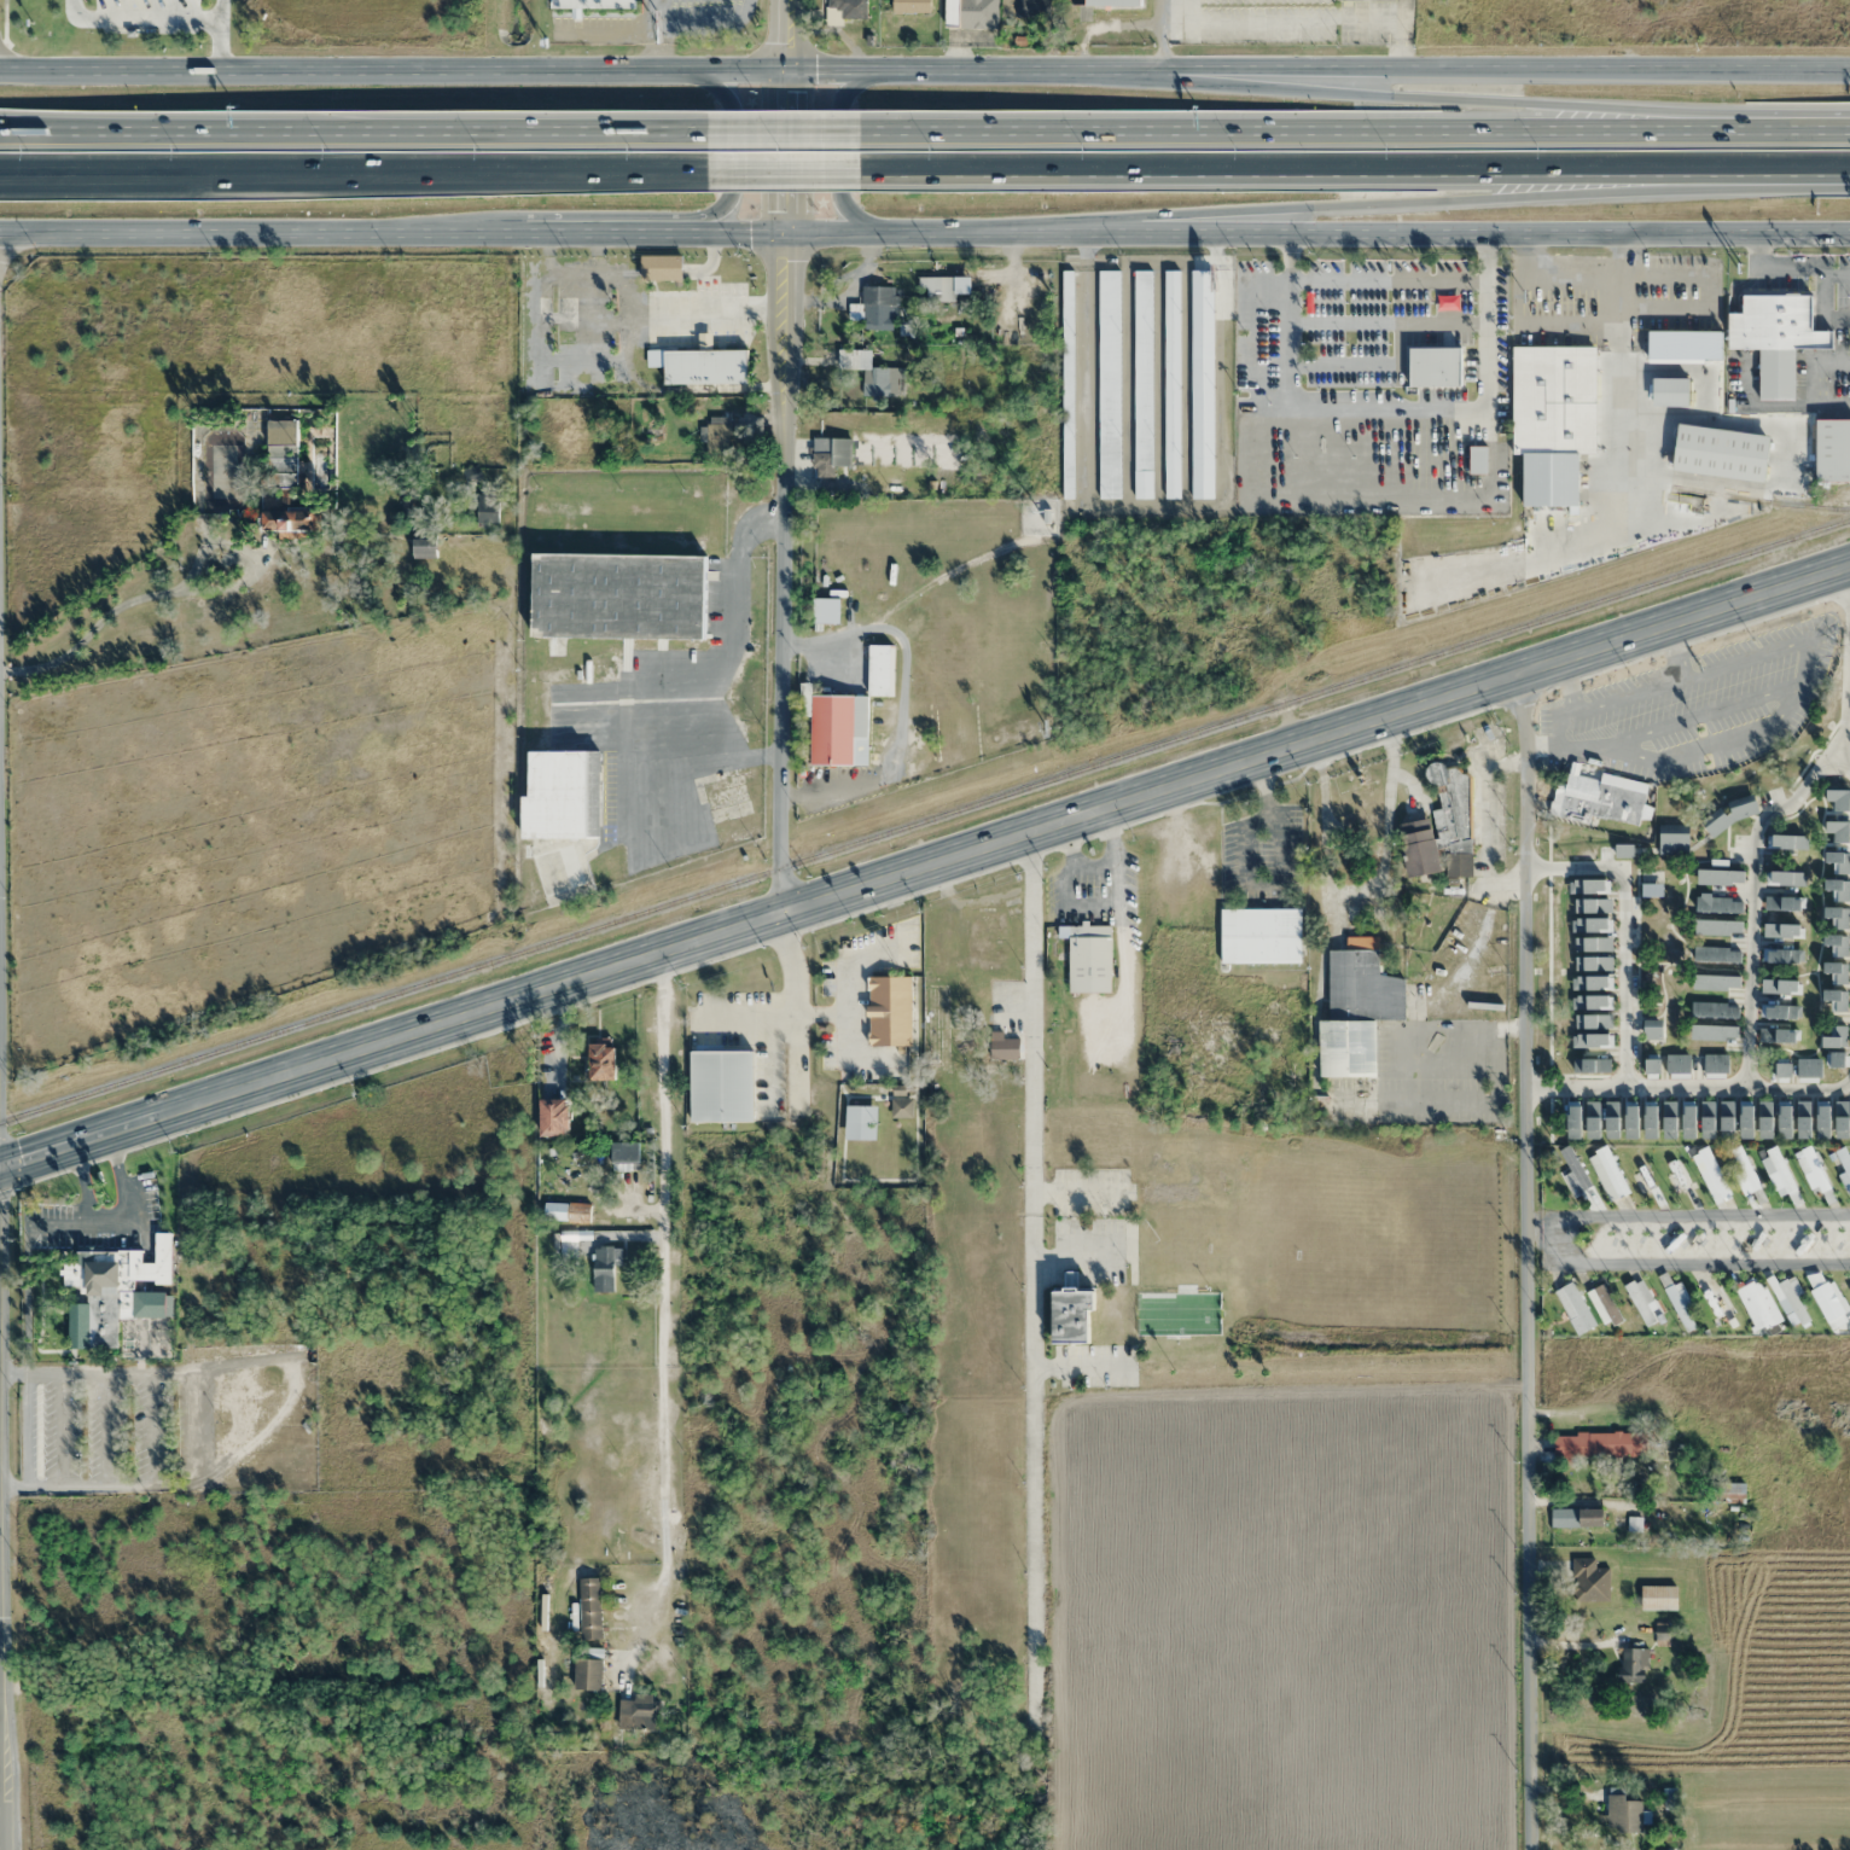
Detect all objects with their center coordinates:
building: (592, 4)
building: (1115, 4)
building: (911, 5)
building: (1035, 8)
building: (847, 10)
building: (971, 13)
road: (4, 64)
road: (924, 69)
road: (1217, 82)
road: (1455, 97)
road: (1599, 116)
road: (83, 133)
road: (438, 133)
road: (784, 133)
road: (1028, 133)
road: (1357, 133)
road: (1599, 133)
road: (1763, 133)
street lamp: (1238, 149)
street lamp: (1386, 149)
street lamp: (1537, 149)
street lamp: (29, 150)
street lamp: (179, 150)
street lamp: (331, 150)
street lamp: (483, 150)
street lamp: (633, 150)
road: (837, 150)
street lamp: (933, 150)
street lamp: (1086, 150)
road: (728, 155)
road: (1753, 169)
road: (1258, 171)
road: (784, 175)
road: (354, 176)
building: (820, 204)
road: (1423, 204)
road: (924, 232)
building: (661, 268)
building: (937, 289)
building: (879, 307)
building: (1775, 338)
building: (1685, 347)
building: (859, 365)
building: (1436, 367)
building: (705, 370)
building: (1109, 384)
building: (1142, 384)
building: (1171, 384)
building: (1202, 384)
building: (1066, 385)
building: (1670, 391)
building: (1553, 419)
building: (717, 435)
building: (1832, 450)
building: (281, 453)
building: (1722, 453)
road: (783, 455)
building: (824, 458)
building: (1268, 487)
building: (487, 510)
building: (289, 520)
building: (425, 548)
building: (618, 597)
building: (1838, 741)
road: (1839, 760)
building: (1839, 786)
building: (563, 797)
building: (1601, 798)
building: (1732, 799)
railway: (924, 819)
building: (1709, 826)
building: (1442, 830)
building: (1839, 834)
road: (1753, 836)
building: (1625, 859)
building: (1703, 860)
road: (924, 862)
building: (1762, 862)
building: (1839, 884)
building: (1628, 908)
building: (1703, 921)
building: (1764, 921)
building: (1842, 926)
road: (1623, 927)
building: (1267, 936)
building: (1628, 950)
building: (1088, 956)
building: (1703, 968)
building: (1764, 973)
building: (1840, 975)
building: (1629, 999)
building: (889, 1010)
building: (1356, 1010)
building: (1703, 1023)
building: (1765, 1023)
building: (1842, 1023)
building: (1005, 1047)
building: (1630, 1047)
building: (601, 1061)
building: (1584, 1081)
building: (721, 1086)
road: (1685, 1087)
building: (1726, 1111)
building: (553, 1117)
building: (1843, 1165)
building: (1745, 1168)
building: (1676, 1169)
building: (1776, 1170)
building: (1810, 1170)
building: (1573, 1173)
building: (1607, 1173)
building: (1710, 1174)
road: (121, 1179)
road: (82, 1182)
road: (81, 1222)
road: (141, 1239)
road: (1575, 1239)
road: (1519, 1259)
building: (605, 1267)
building: (1700, 1281)
building: (101, 1290)
building: (1826, 1299)
building: (1791, 1301)
building: (1640, 1303)
building: (155, 1304)
building: (1757, 1304)
building: (1679, 1305)
building: (1573, 1308)
building: (1718, 1308)
building: (1074, 1315)
road: (24, 1427)
road: (59, 1427)
road: (105, 1427)
road: (149, 1429)
building: (1663, 1442)
building: (1598, 1444)
building: (1729, 1491)
building: (1577, 1517)
building: (1589, 1581)
building: (1658, 1596)
building: (589, 1608)
building: (1633, 1665)
road: (0, 1666)
building: (587, 1674)
building: (639, 1714)
building: (1622, 1811)

